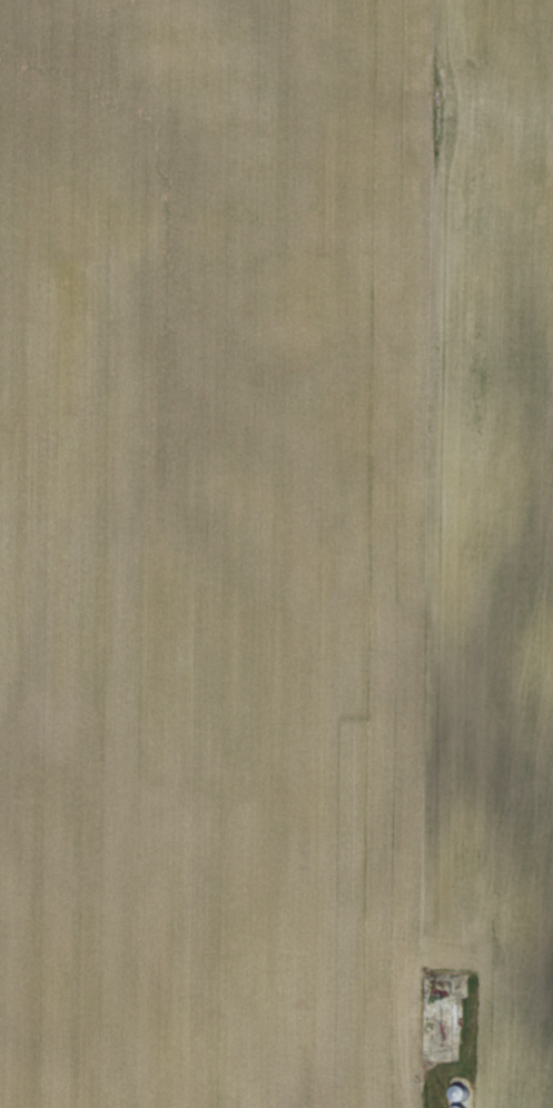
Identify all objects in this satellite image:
road: (440, 1095)

